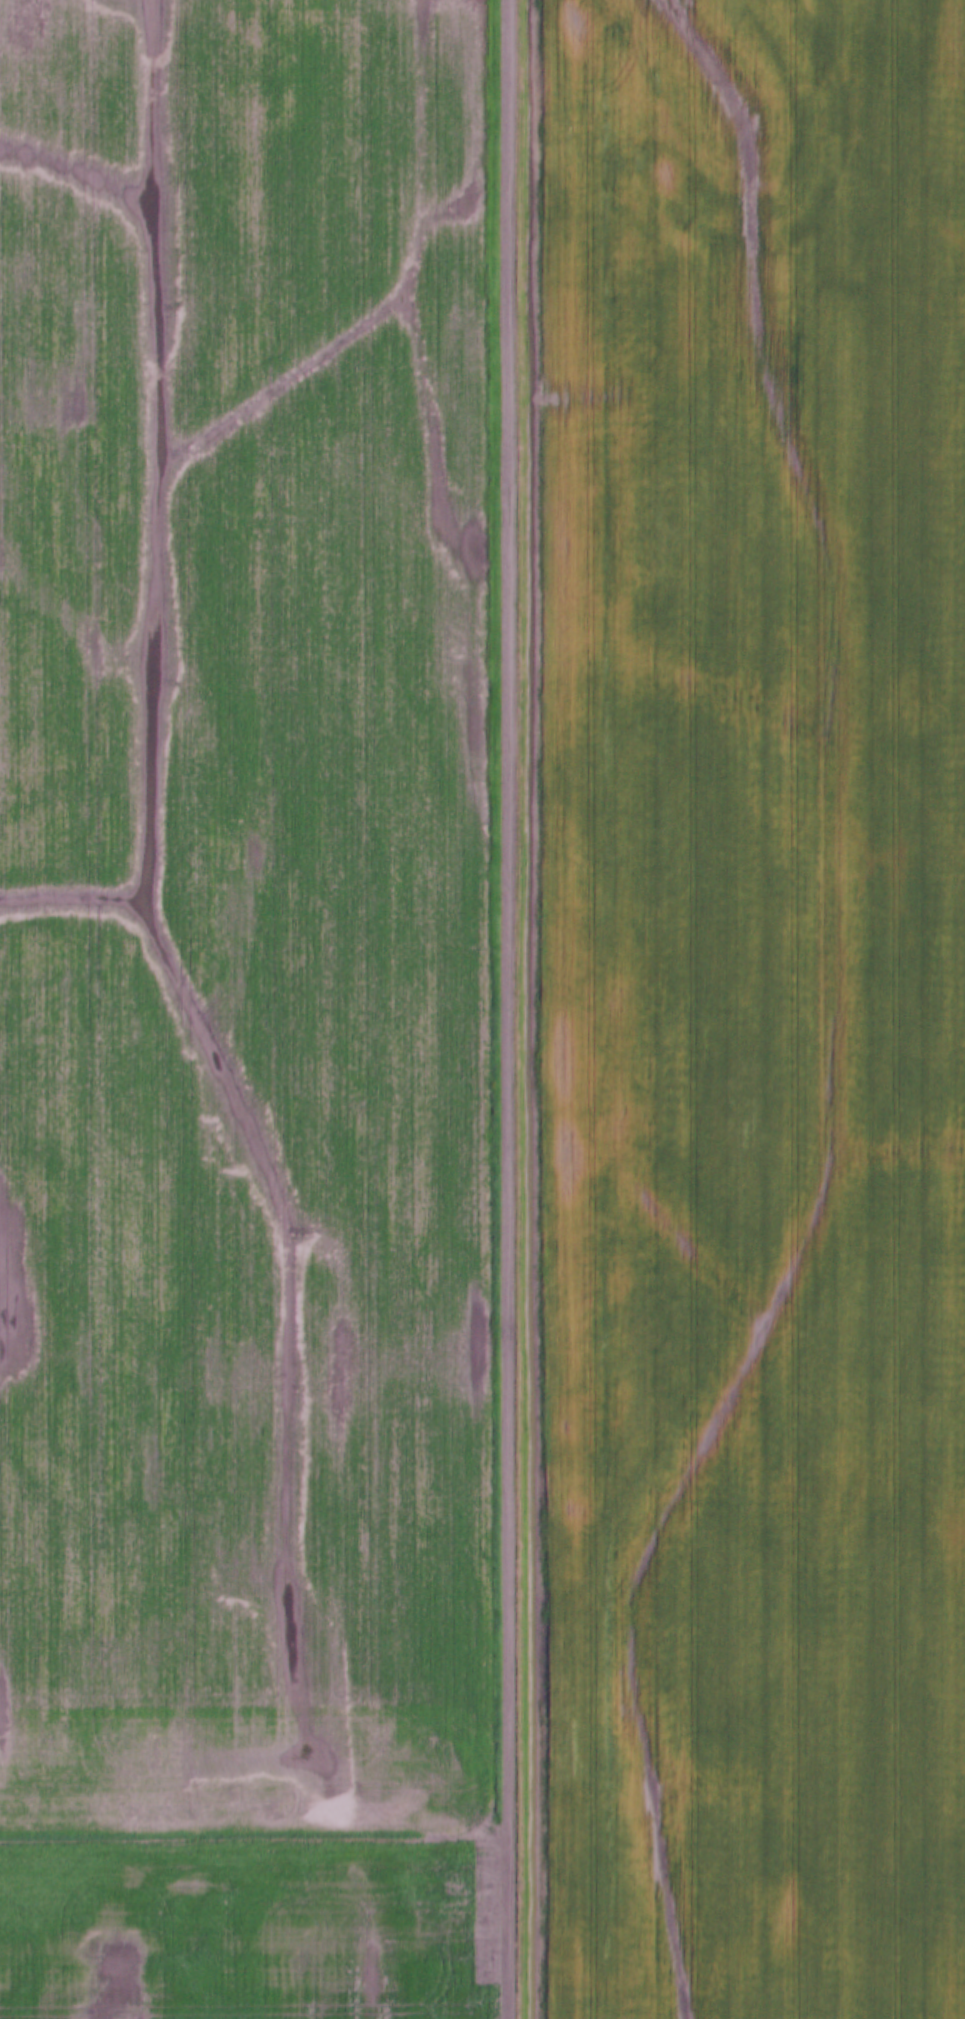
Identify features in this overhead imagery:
road: (511, 1009)

